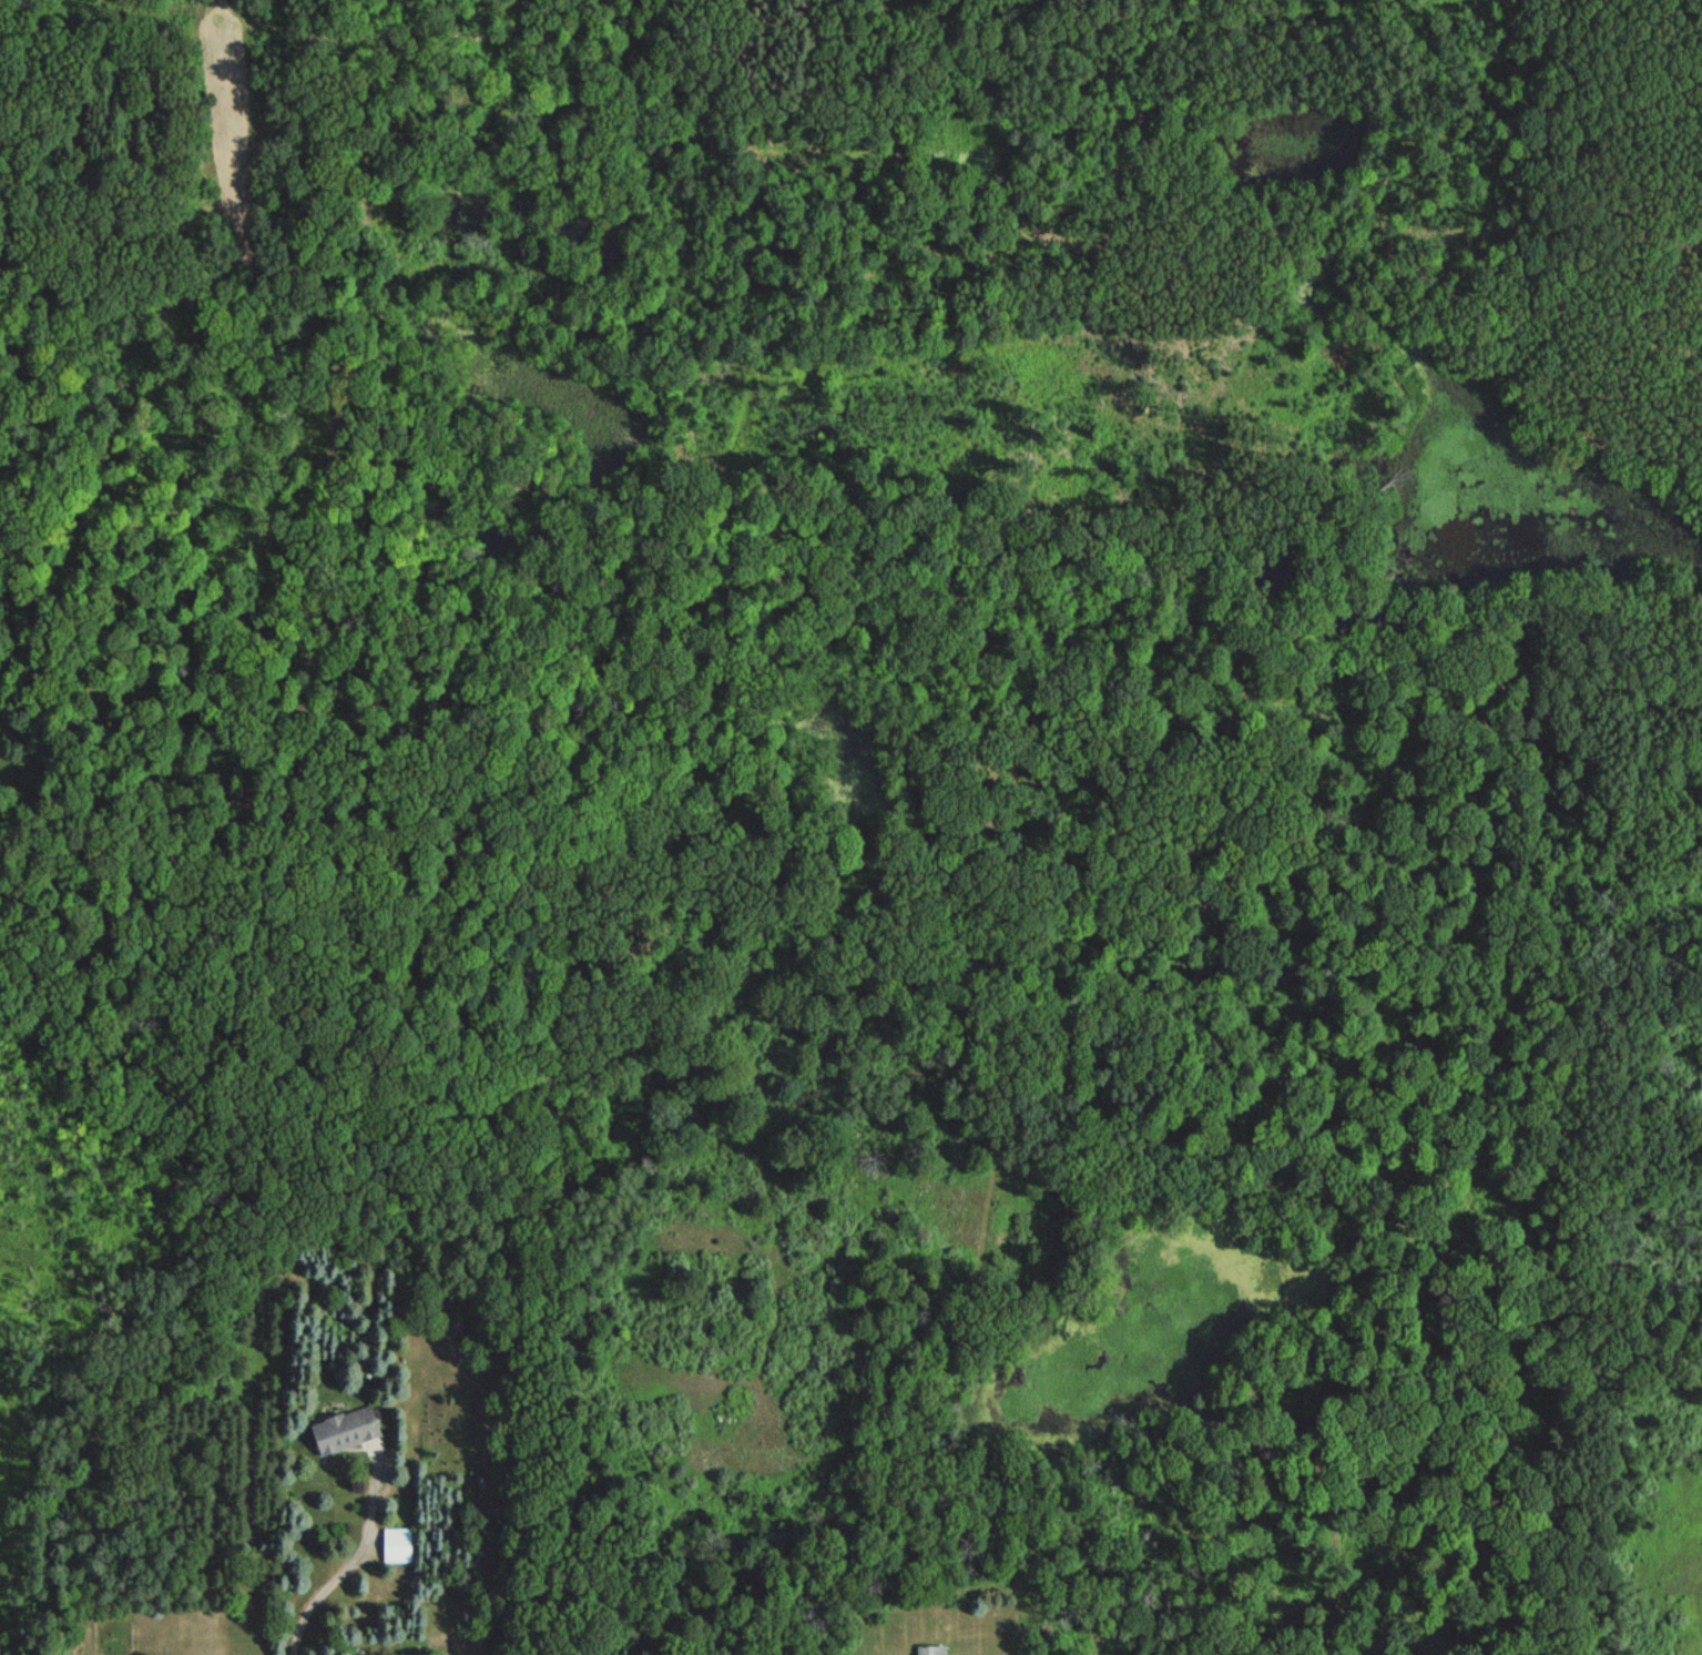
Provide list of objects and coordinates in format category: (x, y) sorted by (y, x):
building: (345, 1431)
building: (396, 1546)
road: (348, 1564)
building: (930, 1651)

